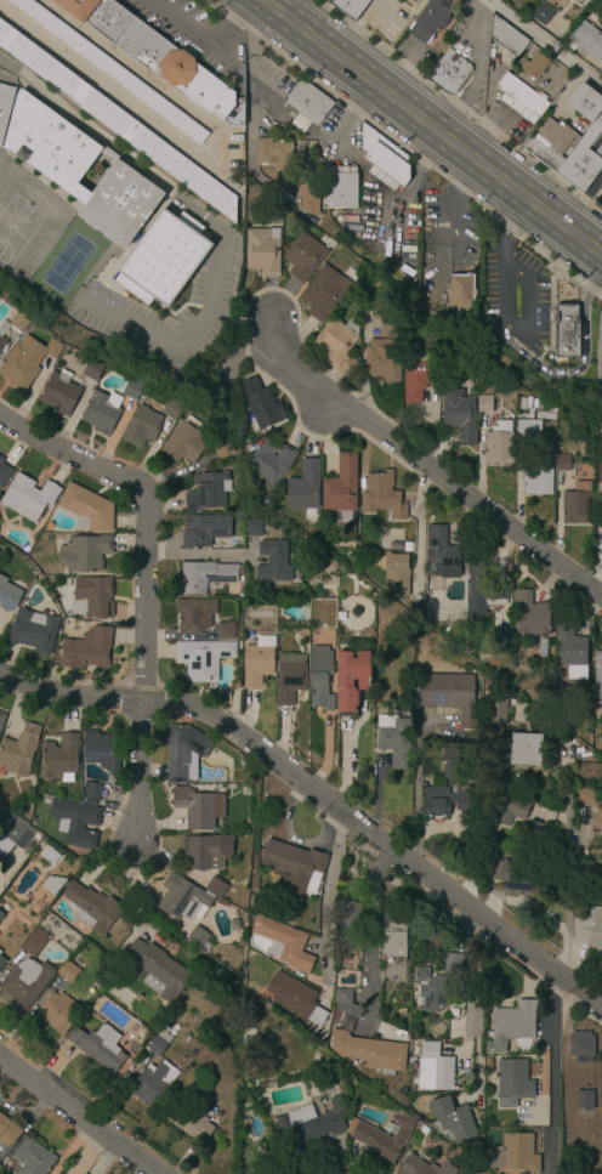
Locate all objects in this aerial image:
building: (569, 0)
building: (413, 1)
building: (350, 7)
road: (291, 8)
building: (543, 15)
road: (239, 18)
parking lot: (385, 18)
building: (430, 19)
road: (356, 28)
parking lot: (194, 35)
road: (195, 35)
building: (506, 36)
building: (587, 39)
road: (543, 44)
parking lot: (415, 52)
parking lot: (473, 52)
road: (473, 52)
building: (154, 53)
building: (535, 66)
building: (110, 69)
building: (449, 73)
parking lot: (263, 95)
parking lot: (490, 96)
building: (521, 97)
building: (309, 102)
building: (5, 107)
building: (235, 110)
building: (118, 121)
road: (458, 123)
road: (432, 127)
parking lot: (337, 138)
building: (570, 142)
building: (276, 155)
building: (384, 159)
building: (80, 171)
road: (371, 181)
building: (339, 187)
building: (308, 195)
building: (600, 195)
parking lot: (391, 223)
road: (392, 223)
parking lot: (449, 223)
park: (16, 226)
road: (519, 227)
building: (263, 250)
building: (305, 257)
building: (165, 259)
park: (66, 262)
road: (596, 287)
building: (461, 291)
building: (324, 293)
parking lot: (516, 294)
road: (505, 295)
road: (529, 304)
building: (19, 322)
building: (391, 327)
building: (569, 333)
building: (1, 344)
building: (337, 344)
parking lot: (598, 351)
building: (382, 359)
building: (27, 361)
building: (92, 369)
road: (577, 372)
building: (416, 379)
building: (131, 389)
building: (59, 392)
building: (261, 404)
building: (484, 404)
building: (538, 408)
building: (171, 409)
building: (101, 412)
building: (459, 414)
building: (524, 415)
building: (142, 426)
building: (528, 429)
building: (184, 442)
building: (499, 444)
building: (223, 448)
building: (601, 460)
building: (272, 461)
road: (422, 463)
building: (563, 463)
building: (4, 472)
building: (538, 477)
building: (342, 488)
building: (306, 489)
building: (208, 492)
building: (600, 492)
building: (381, 495)
building: (29, 497)
building: (578, 504)
building: (87, 509)
road: (144, 517)
building: (254, 528)
building: (205, 529)
building: (598, 543)
building: (391, 548)
building: (408, 548)
building: (85, 552)
road: (203, 552)
building: (441, 552)
building: (273, 562)
building: (397, 573)
building: (206, 575)
building: (484, 584)
building: (7, 594)
building: (91, 597)
building: (532, 614)
building: (194, 616)
building: (34, 631)
building: (226, 631)
building: (543, 647)
building: (87, 648)
building: (572, 651)
building: (203, 658)
building: (259, 662)
building: (598, 675)
building: (290, 677)
building: (320, 677)
building: (352, 679)
building: (401, 692)
building: (450, 694)
road: (67, 697)
building: (498, 708)
building: (1, 719)
building: (394, 738)
building: (526, 749)
building: (19, 750)
building: (102, 750)
road: (345, 750)
building: (183, 752)
building: (62, 758)
building: (450, 762)
road: (137, 776)
road: (414, 790)
building: (91, 792)
building: (590, 799)
building: (445, 800)
building: (46, 804)
building: (199, 807)
building: (509, 809)
building: (598, 819)
building: (75, 822)
building: (8, 828)
road: (377, 839)
building: (206, 851)
building: (291, 863)
road: (566, 869)
building: (512, 878)
building: (215, 887)
road: (325, 897)
building: (183, 898)
building: (93, 908)
building: (0, 914)
building: (351, 925)
building: (589, 929)
building: (83, 930)
road: (369, 931)
building: (198, 937)
building: (394, 937)
building: (34, 942)
building: (284, 945)
building: (0, 952)
building: (1, 962)
building: (453, 962)
building: (155, 970)
building: (69, 972)
road: (471, 974)
building: (27, 982)
building: (431, 989)
building: (296, 999)
building: (347, 1003)
building: (58, 1013)
building: (337, 1016)
building: (150, 1020)
building: (346, 1023)
building: (512, 1026)
building: (159, 1043)
building: (98, 1045)
building: (581, 1047)
building: (370, 1051)
building: (189, 1057)
building: (488, 1064)
building: (567, 1066)
building: (435, 1070)
road: (552, 1072)
building: (512, 1082)
building: (153, 1084)
building: (601, 1091)
road: (79, 1113)
building: (451, 1118)
building: (189, 1122)
building: (311, 1123)
building: (7, 1130)
building: (424, 1130)
building: (381, 1136)
road: (85, 1152)
building: (516, 1155)
building: (33, 1158)
building: (425, 1167)
building: (260, 1173)

